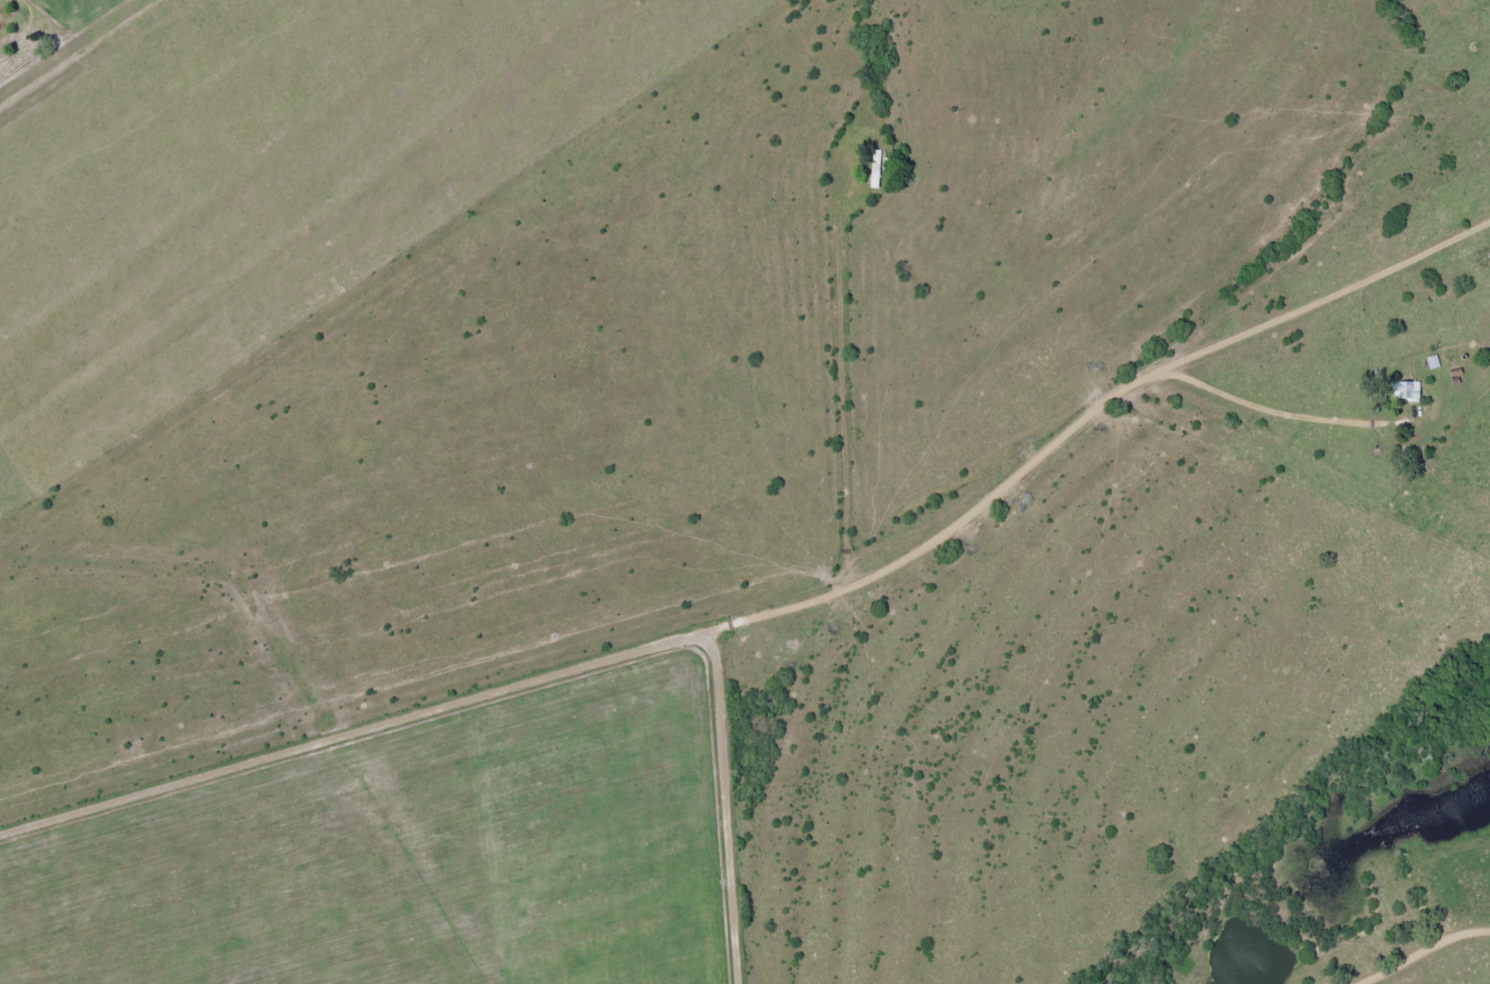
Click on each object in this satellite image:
road: (88, 41)
building: (877, 166)
road: (1366, 328)
road: (1404, 374)
building: (1404, 389)
road: (1099, 441)
road: (523, 681)
road: (1441, 964)

